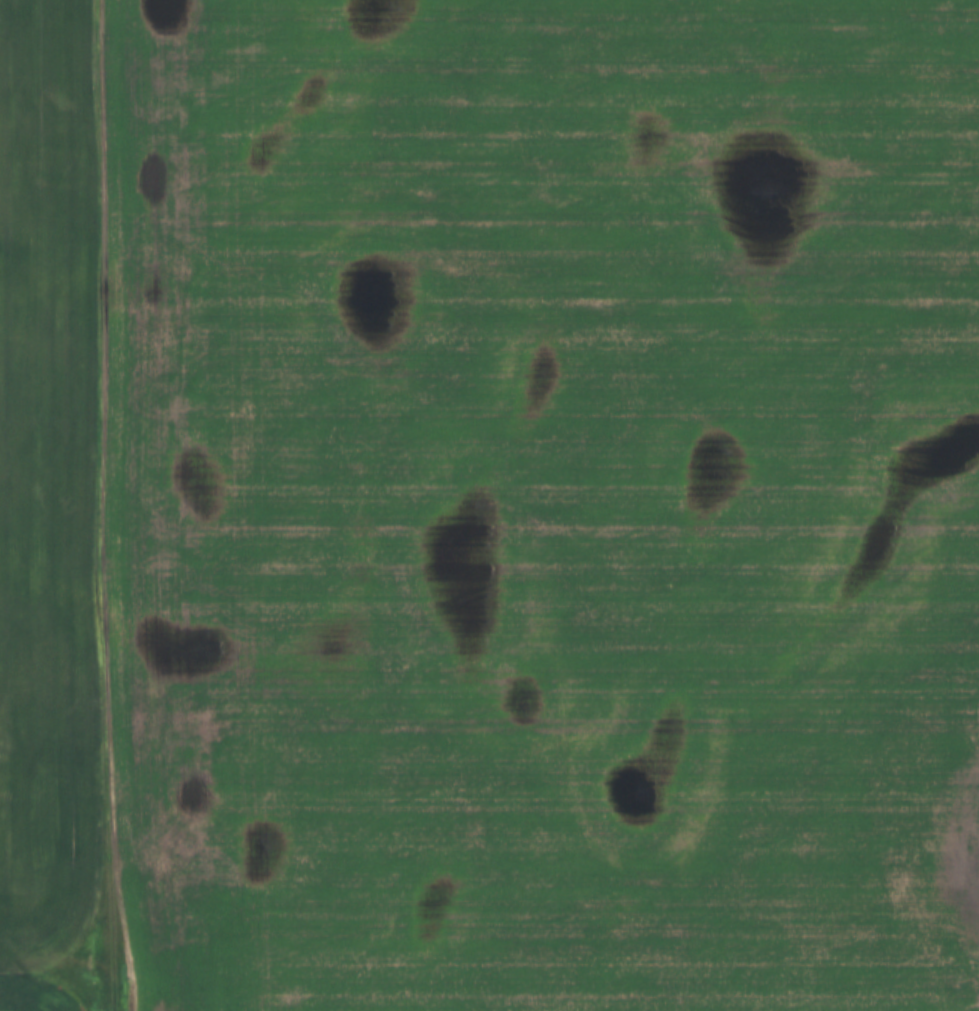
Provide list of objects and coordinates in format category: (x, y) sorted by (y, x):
road: (108, 387)
road: (111, 893)
road: (56, 956)

